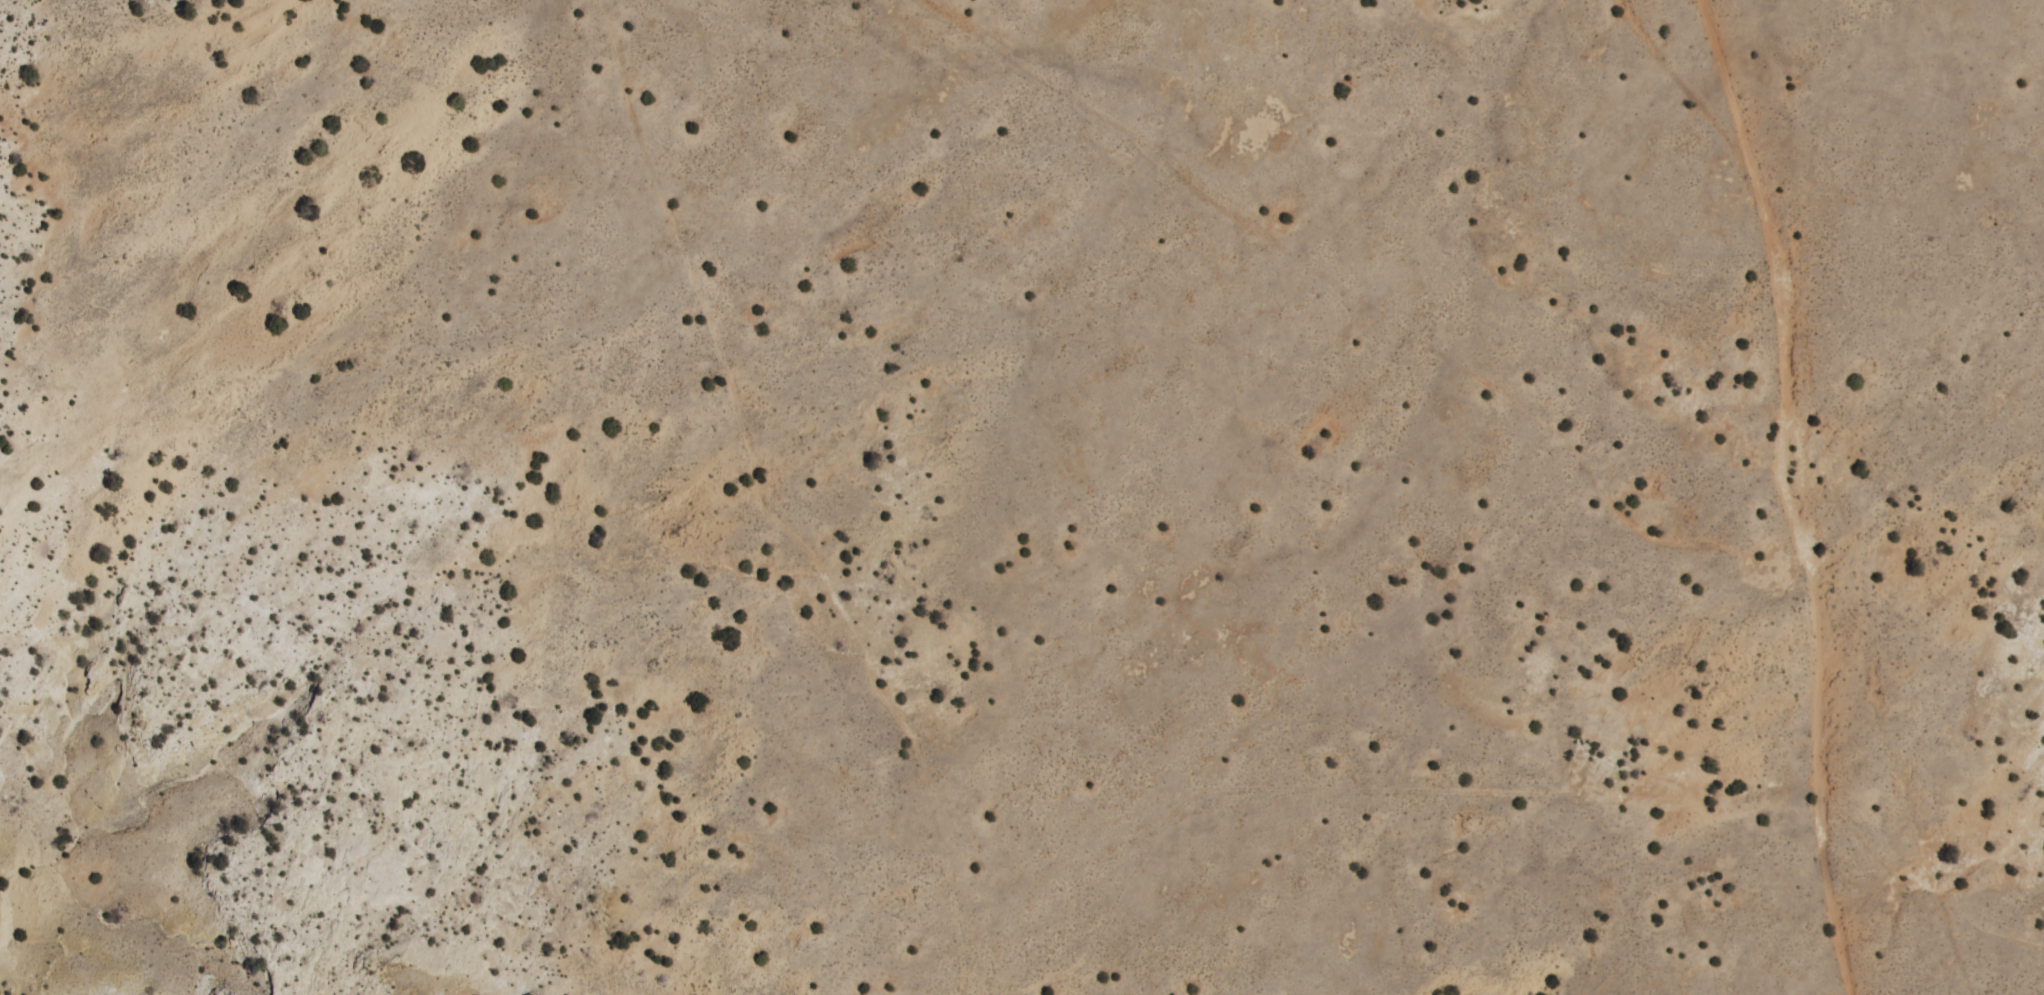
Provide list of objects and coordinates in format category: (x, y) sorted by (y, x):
road: (1838, 470)

